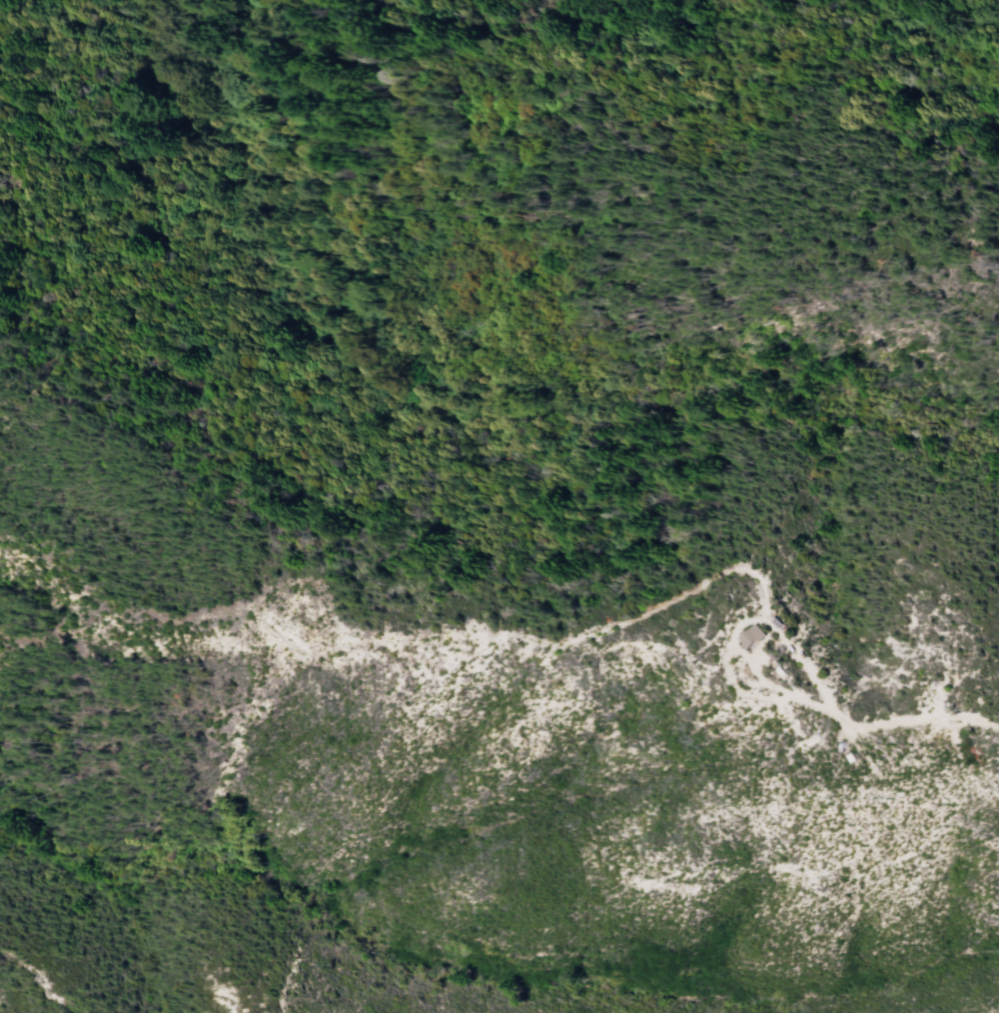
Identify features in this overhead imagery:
road: (883, 220)
building: (778, 623)
building: (753, 637)
road: (525, 638)
road: (766, 685)
road: (737, 689)
road: (5, 953)
road: (45, 980)
road: (289, 980)

